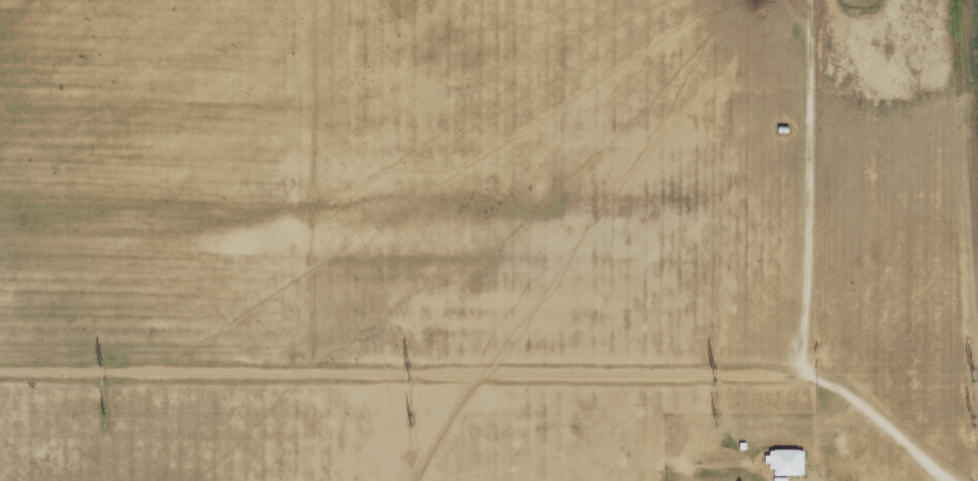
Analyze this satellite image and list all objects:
power tower: (104, 367)
power tower: (715, 367)
power tower: (976, 367)
power tower: (410, 370)
power tower: (718, 413)
power tower: (412, 415)
power tower: (106, 417)
power tower: (975, 417)
building: (788, 462)
building: (781, 479)

